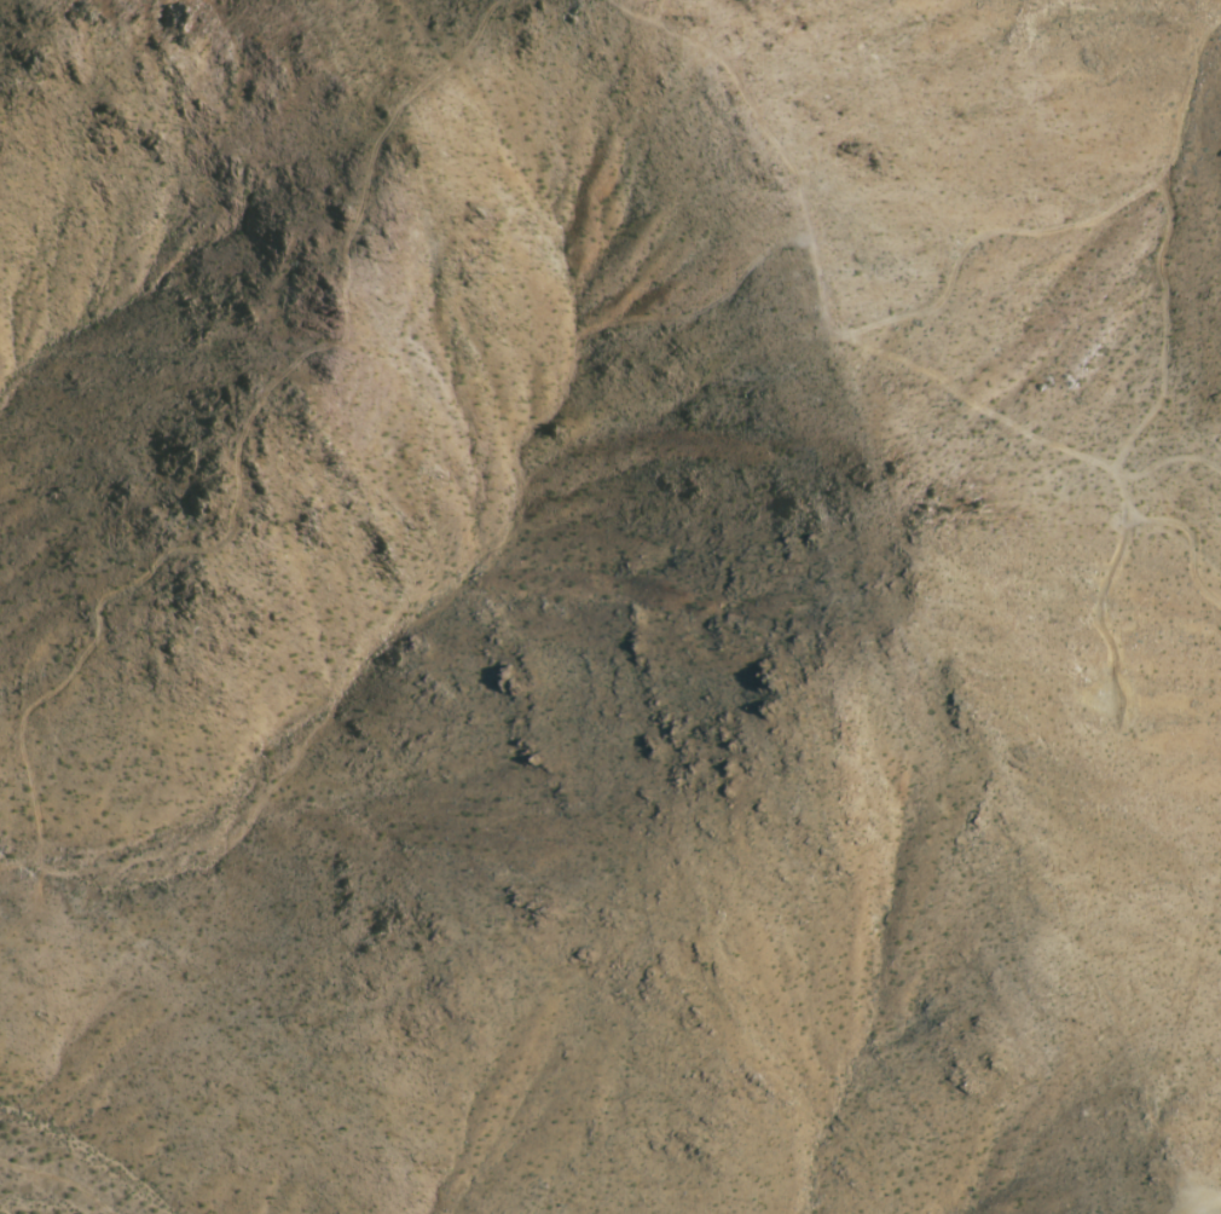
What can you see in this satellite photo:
road: (1210, 1208)

